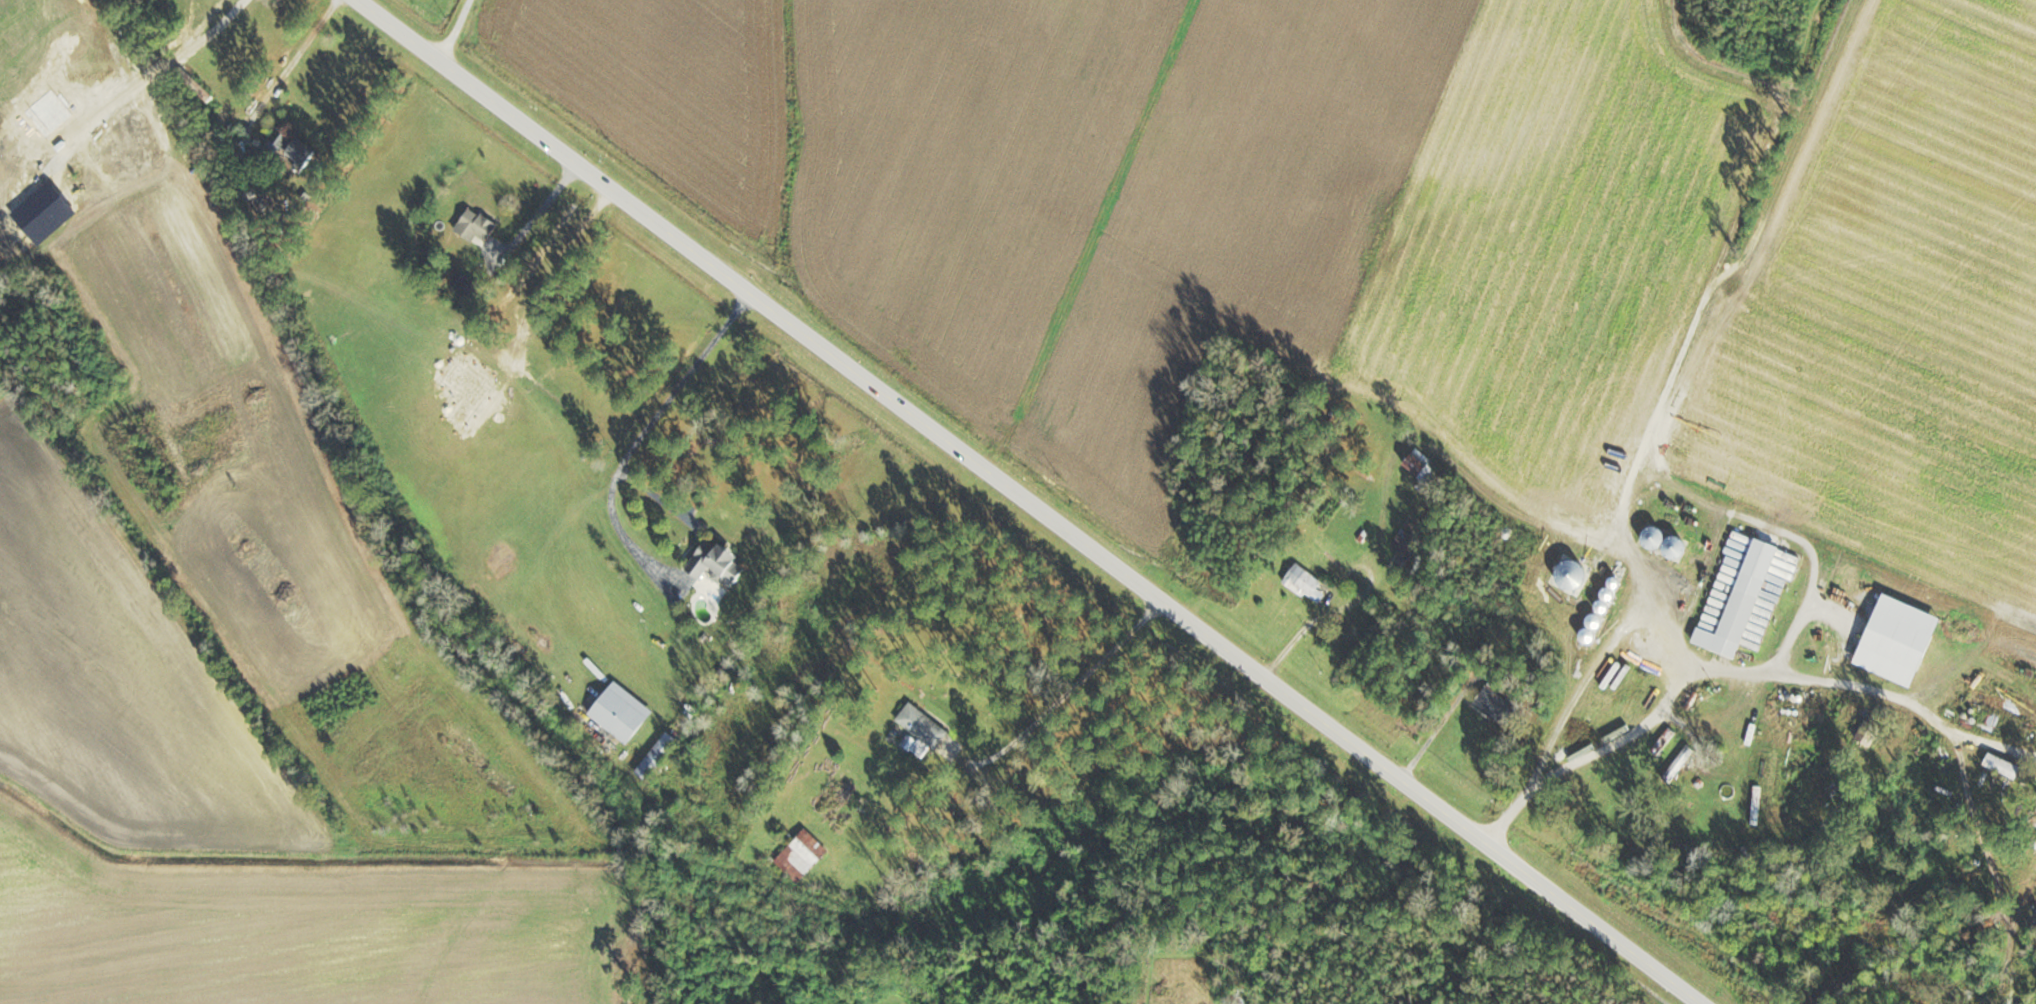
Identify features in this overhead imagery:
building: (194, 82)
building: (220, 115)
building: (289, 146)
building: (475, 225)
building: (456, 277)
building: (474, 289)
road: (644, 433)
building: (1421, 465)
road: (1029, 502)
building: (1406, 540)
building: (1663, 540)
building: (715, 561)
building: (1306, 581)
building: (1732, 616)
building: (1590, 626)
building: (1494, 702)
building: (620, 710)
building: (922, 727)
building: (1861, 729)
building: (1663, 739)
building: (657, 754)
building: (1996, 760)
building: (1678, 763)
building: (803, 852)

